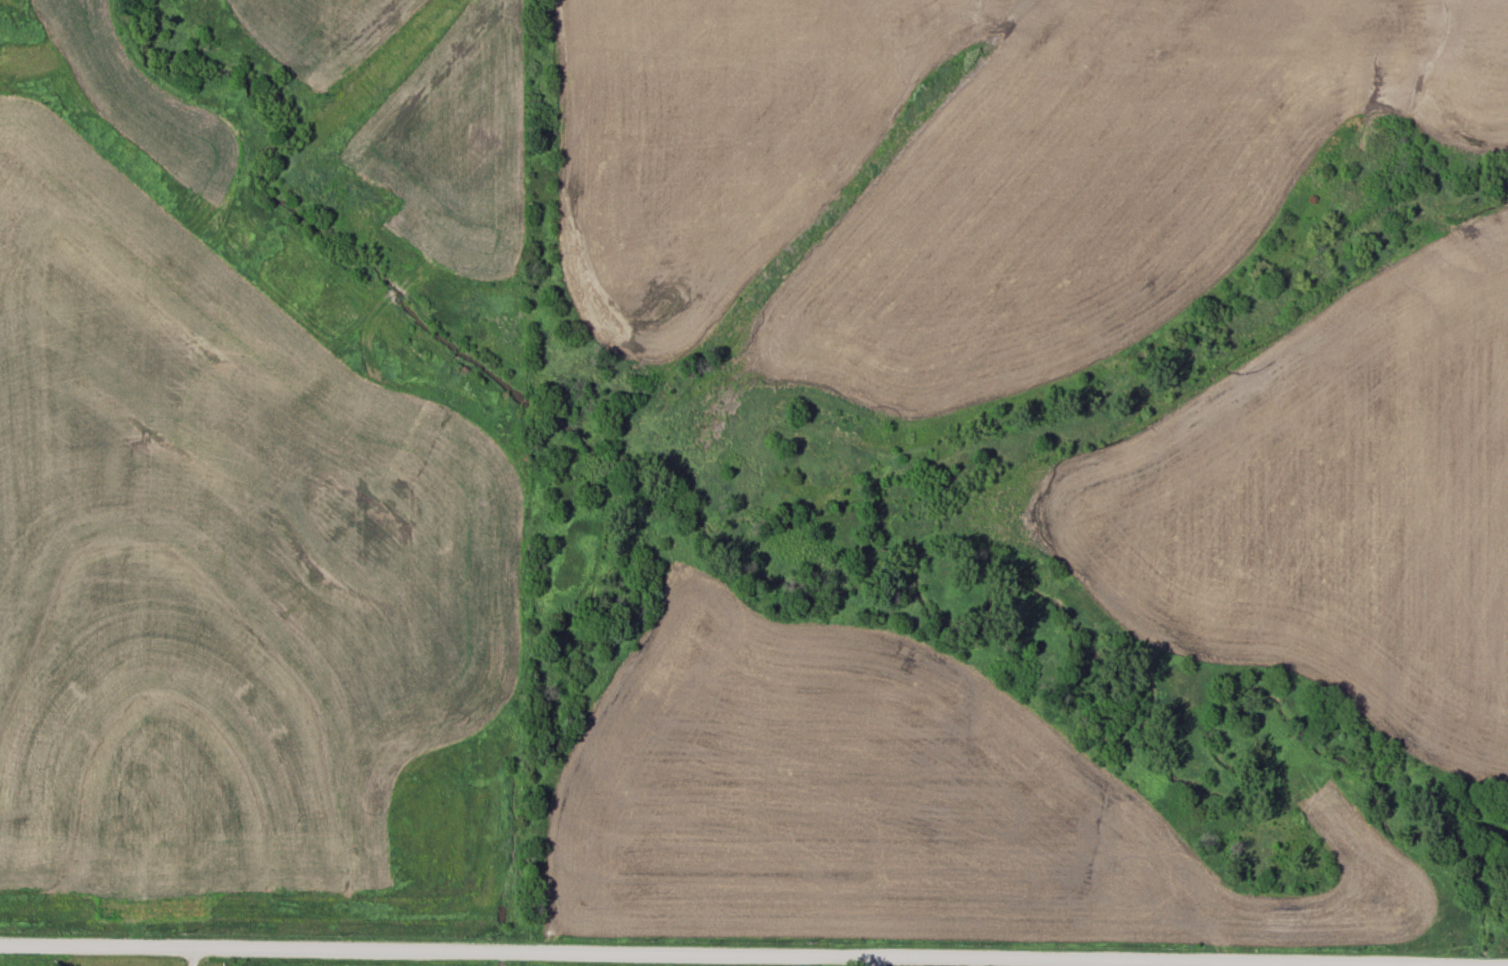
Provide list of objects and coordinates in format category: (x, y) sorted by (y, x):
crop: (708, 148)
crop: (1094, 193)
crop: (1314, 505)
road: (728, 954)
road: (191, 956)

